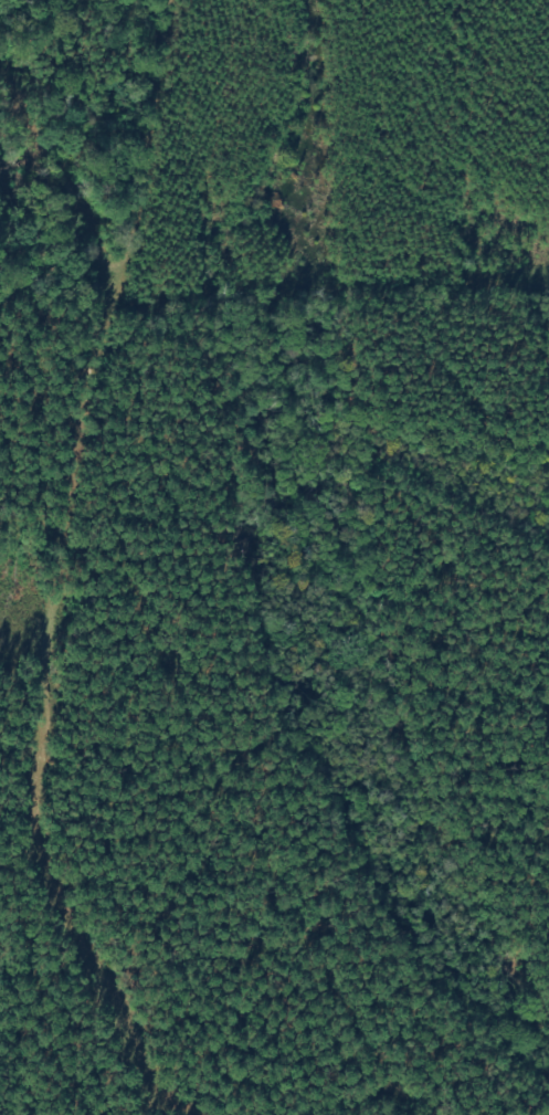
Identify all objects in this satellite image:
road: (85, 572)

